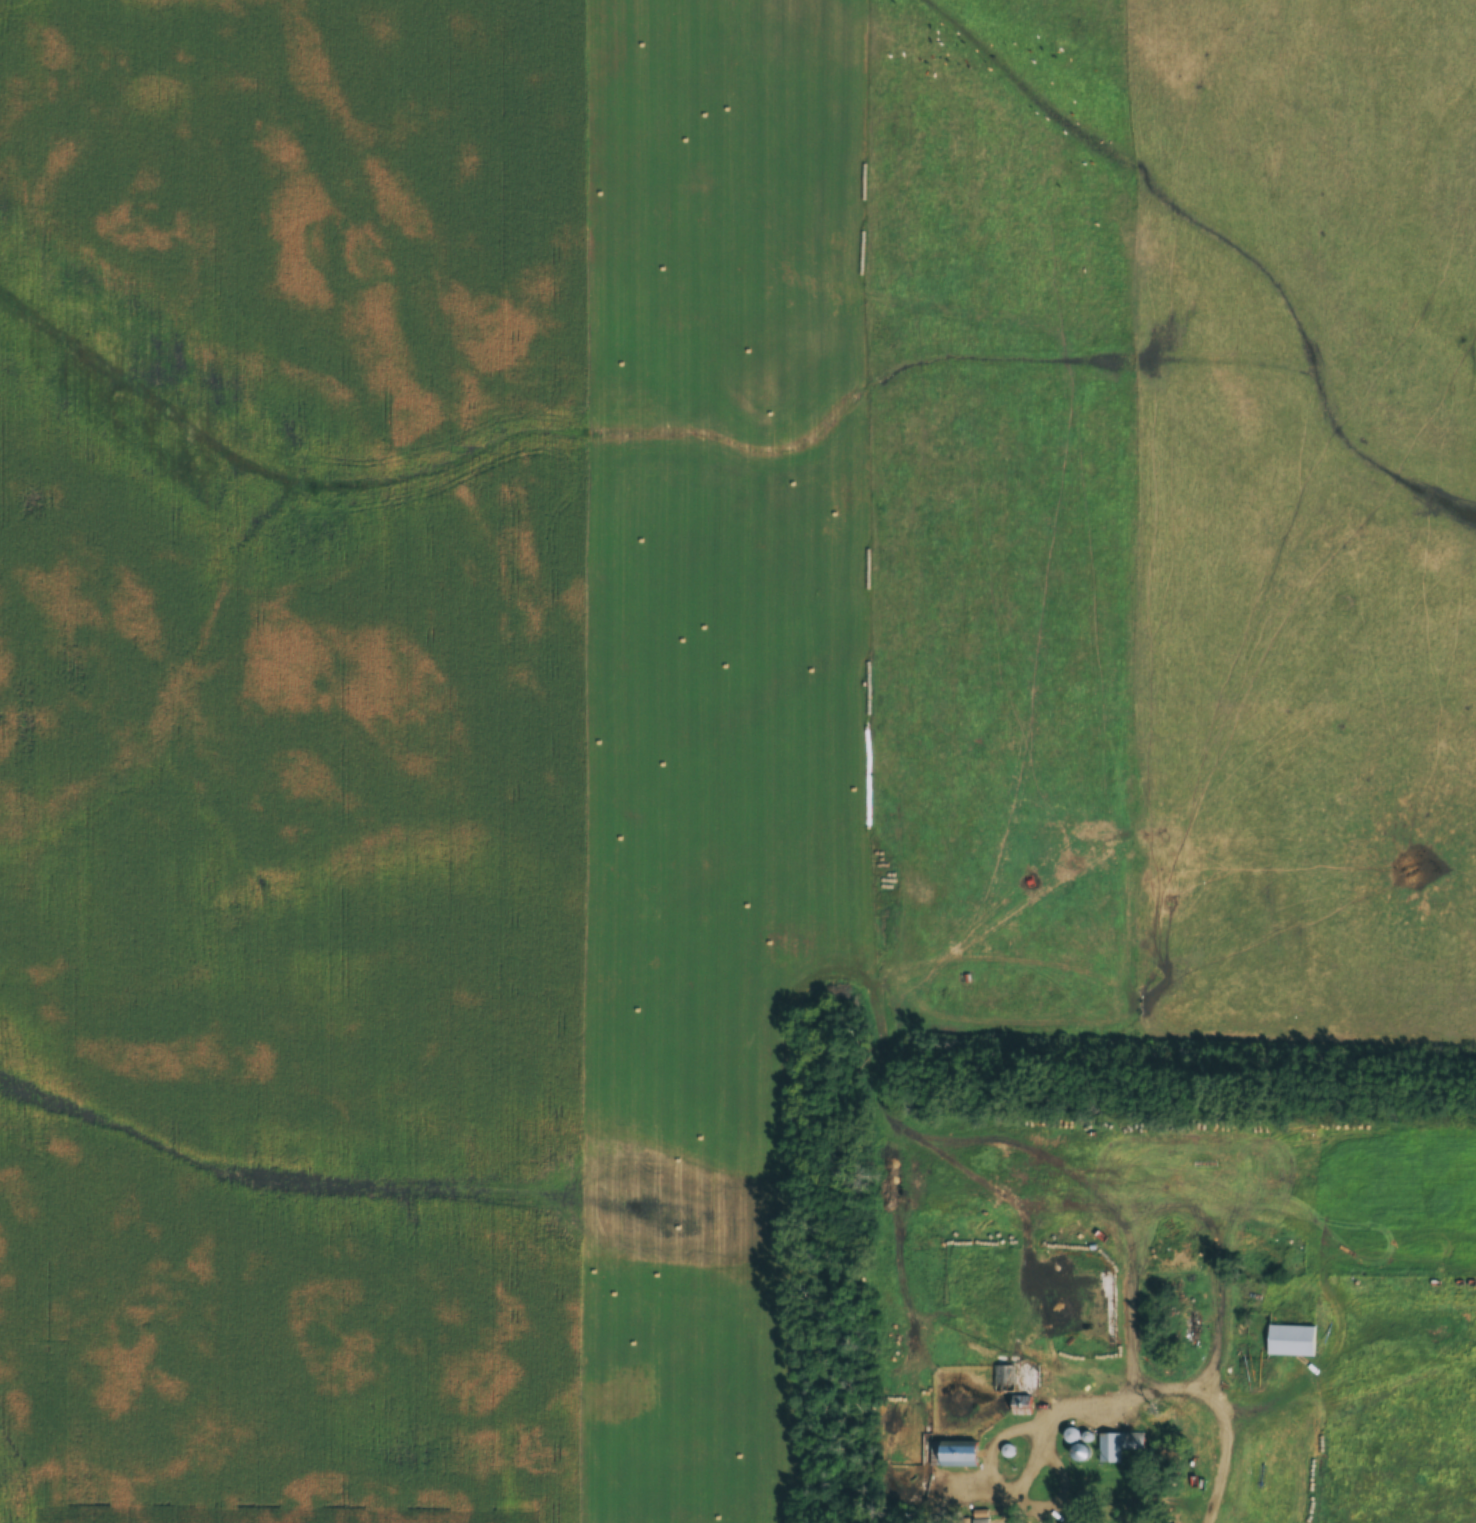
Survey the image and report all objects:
building: (1294, 1340)
building: (1005, 1378)
building: (1025, 1405)
building: (1120, 1445)
building: (958, 1454)

